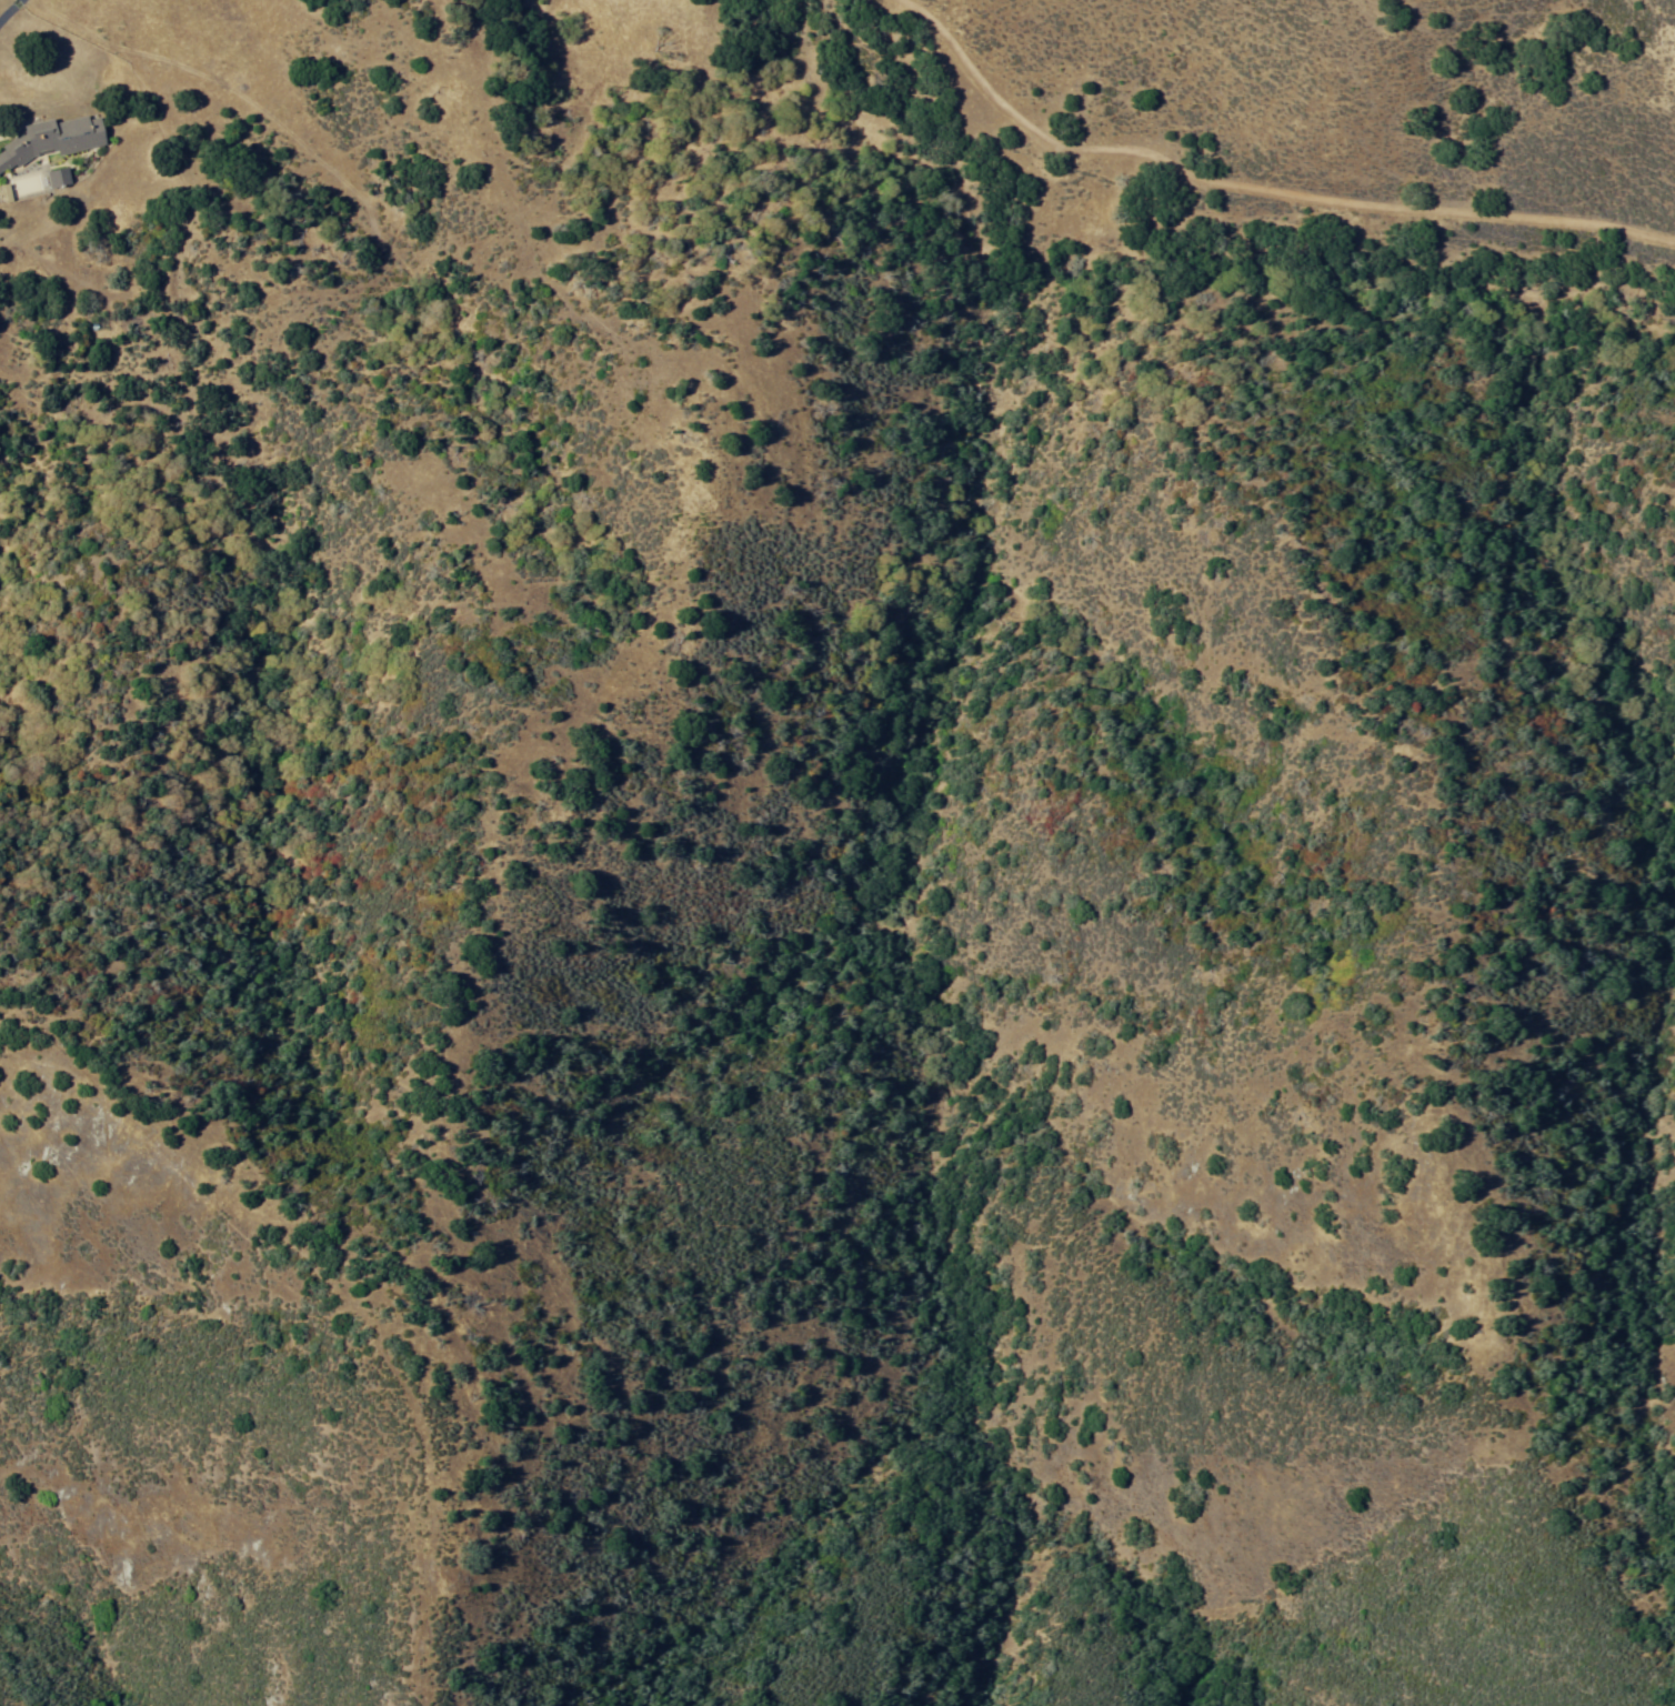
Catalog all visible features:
building: (52, 140)

